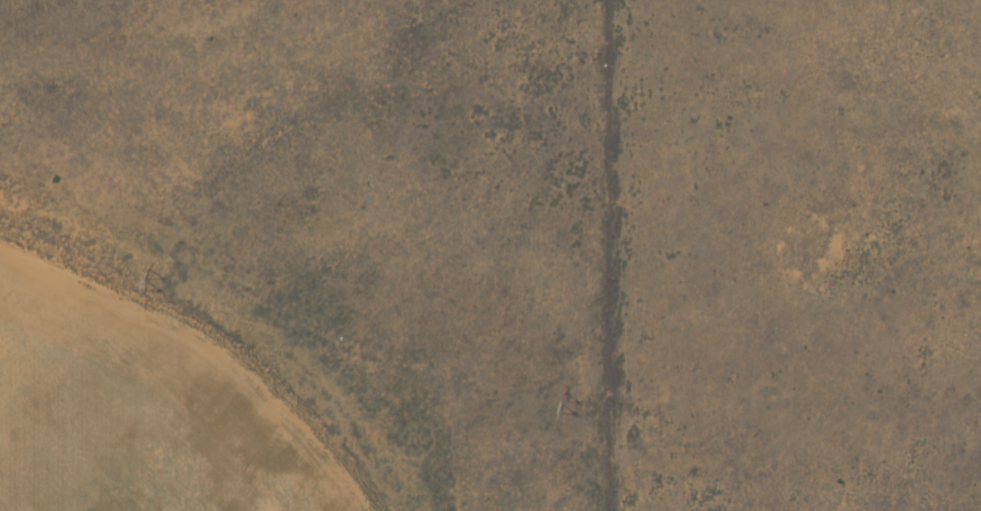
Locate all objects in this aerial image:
power tower: (159, 283)
power tower: (576, 406)

